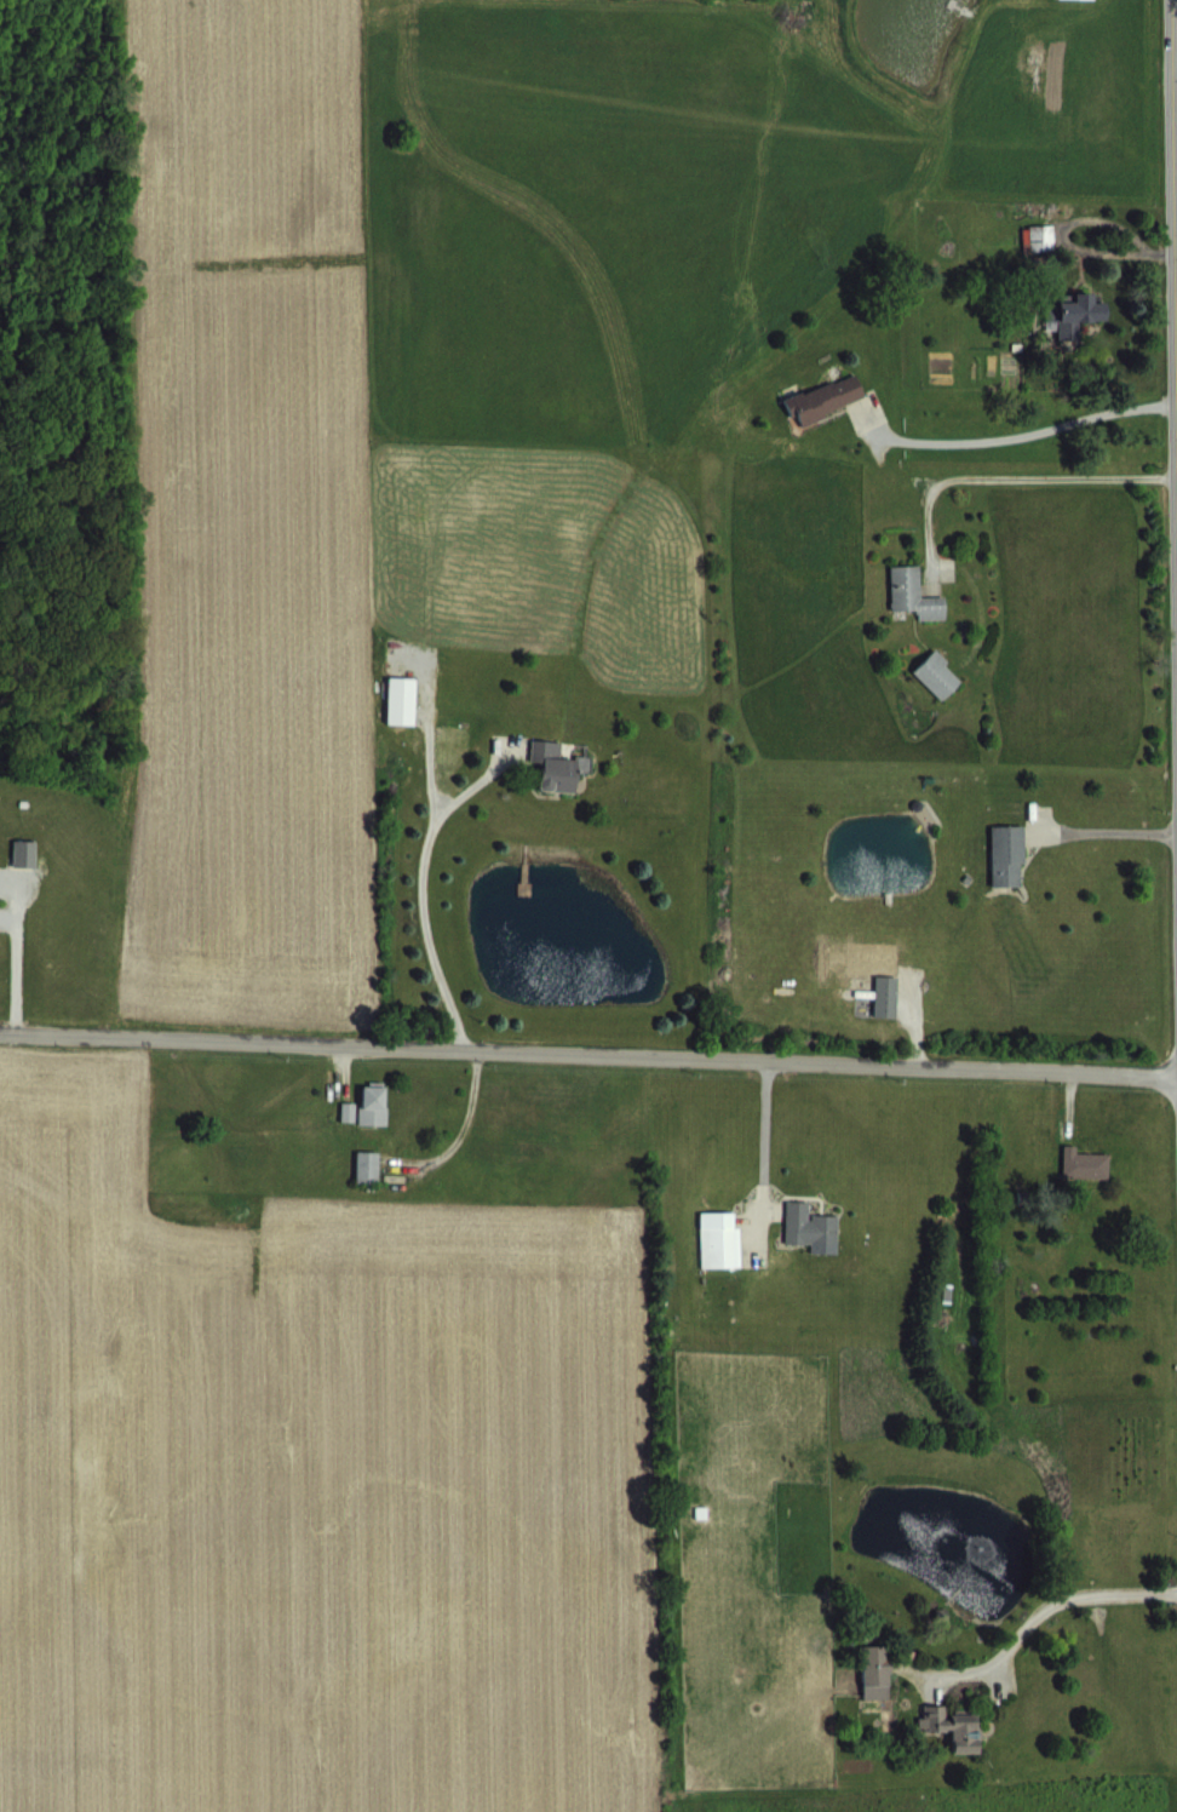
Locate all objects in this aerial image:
building: (1075, 8)
road: (1173, 48)
building: (1043, 257)
building: (1074, 333)
road: (1173, 365)
building: (827, 419)
road: (1015, 436)
road: (1007, 478)
building: (914, 614)
building: (938, 695)
building: (403, 721)
building: (556, 787)
building: (1004, 850)
road: (1104, 853)
building: (27, 875)
road: (427, 910)
road: (19, 970)
building: (883, 992)
building: (885, 1015)
road: (587, 1073)
building: (374, 1124)
road: (469, 1142)
road: (760, 1154)
building: (1086, 1185)
building: (369, 1187)
building: (811, 1245)
building: (722, 1261)
road: (1041, 1609)
building: (873, 1668)
building: (948, 1724)
building: (953, 1747)

